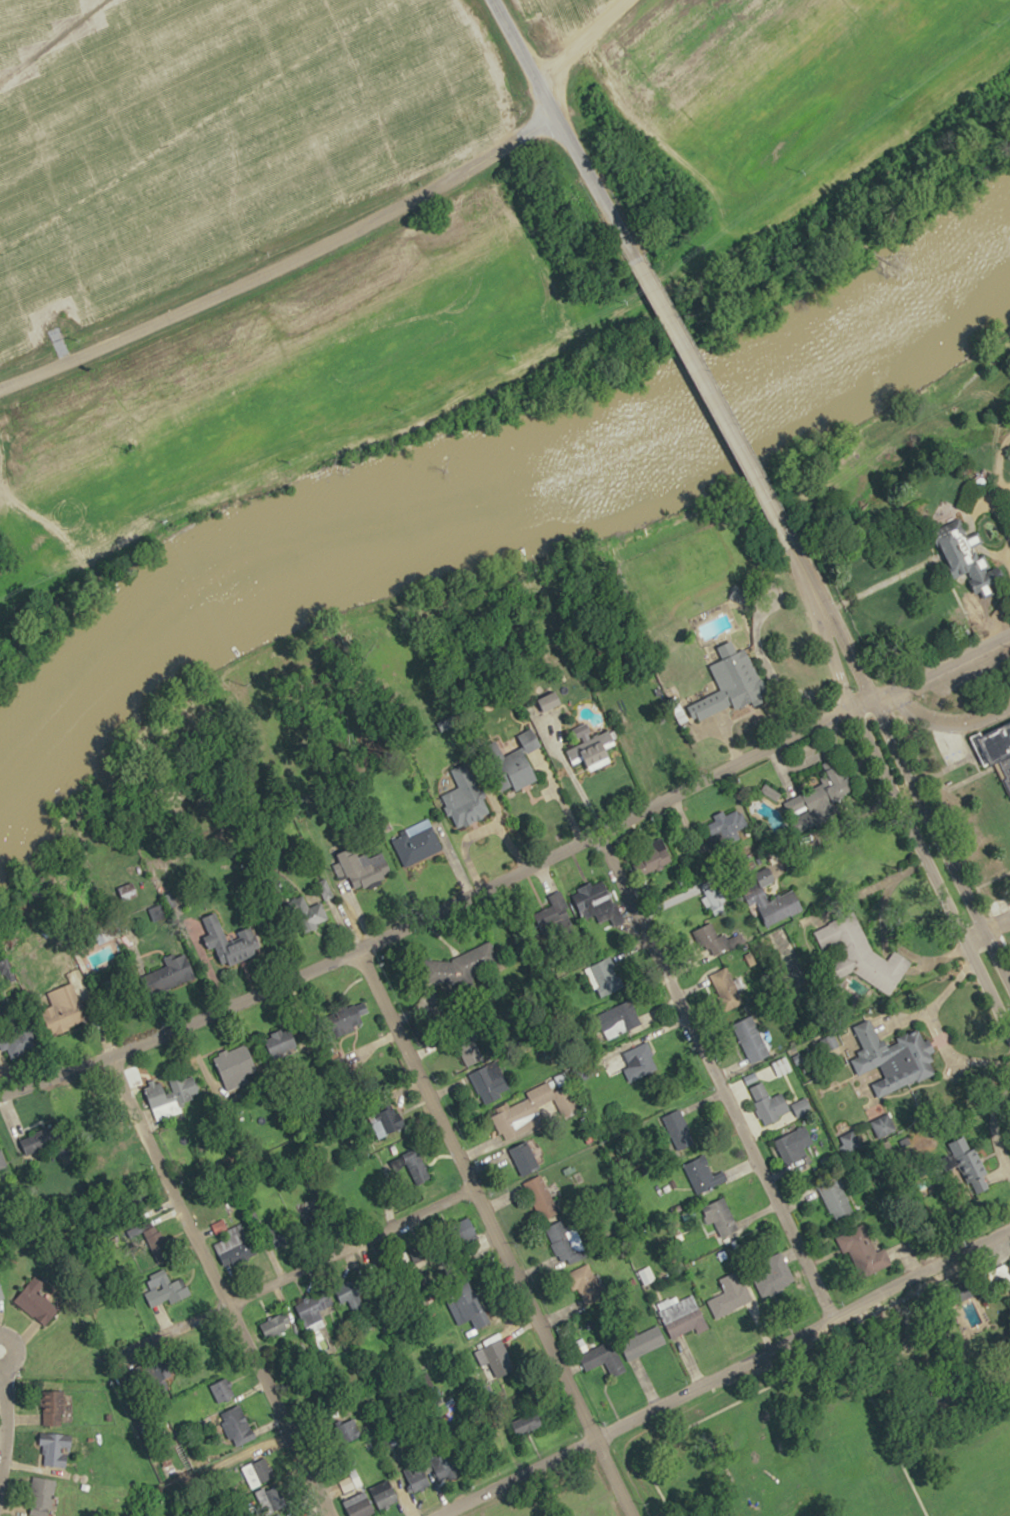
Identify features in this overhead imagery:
road: (582, 41)
road: (564, 128)
road: (282, 257)
road: (719, 396)
river: (487, 495)
road: (960, 521)
road: (1003, 561)
building: (740, 594)
road: (937, 659)
parking lot: (970, 672)
building: (730, 683)
building: (551, 700)
road: (943, 723)
building: (655, 741)
parking lot: (949, 744)
building: (995, 747)
building: (594, 754)
building: (522, 768)
road: (900, 772)
building: (465, 797)
building: (816, 815)
building: (727, 826)
building: (417, 842)
building: (653, 858)
building: (365, 867)
building: (598, 909)
building: (770, 909)
road: (439, 912)
building: (307, 913)
building: (551, 919)
road: (994, 927)
building: (709, 937)
building: (232, 940)
building: (863, 953)
building: (478, 958)
building: (179, 969)
building: (605, 977)
building: (726, 988)
building: (66, 1008)
building: (618, 1019)
building: (750, 1039)
building: (469, 1050)
building: (632, 1062)
building: (898, 1062)
building: (783, 1065)
building: (236, 1066)
road: (715, 1076)
building: (489, 1082)
building: (174, 1092)
building: (565, 1100)
building: (768, 1103)
building: (515, 1118)
building: (386, 1122)
building: (883, 1125)
building: (678, 1129)
building: (42, 1137)
building: (855, 1139)
building: (791, 1145)
building: (525, 1158)
building: (966, 1159)
building: (417, 1167)
building: (0, 1170)
building: (703, 1175)
building: (541, 1198)
building: (835, 1198)
building: (721, 1218)
building: (294, 1224)
road: (494, 1234)
building: (561, 1241)
building: (863, 1253)
building: (1008, 1266)
road: (291, 1272)
building: (585, 1284)
road: (217, 1285)
building: (0, 1295)
building: (730, 1295)
building: (352, 1296)
building: (36, 1302)
building: (473, 1309)
building: (313, 1310)
building: (682, 1317)
building: (275, 1326)
building: (643, 1342)
road: (5, 1348)
building: (605, 1357)
building: (499, 1358)
road: (722, 1372)
road: (784, 1378)
building: (223, 1395)
road: (2, 1409)
building: (50, 1409)
building: (527, 1422)
building: (347, 1431)
building: (56, 1448)
park: (802, 1448)
building: (444, 1466)
building: (257, 1472)
building: (414, 1476)
building: (42, 1494)
building: (384, 1494)
building: (270, 1500)
building: (358, 1504)
building: (277, 1515)

